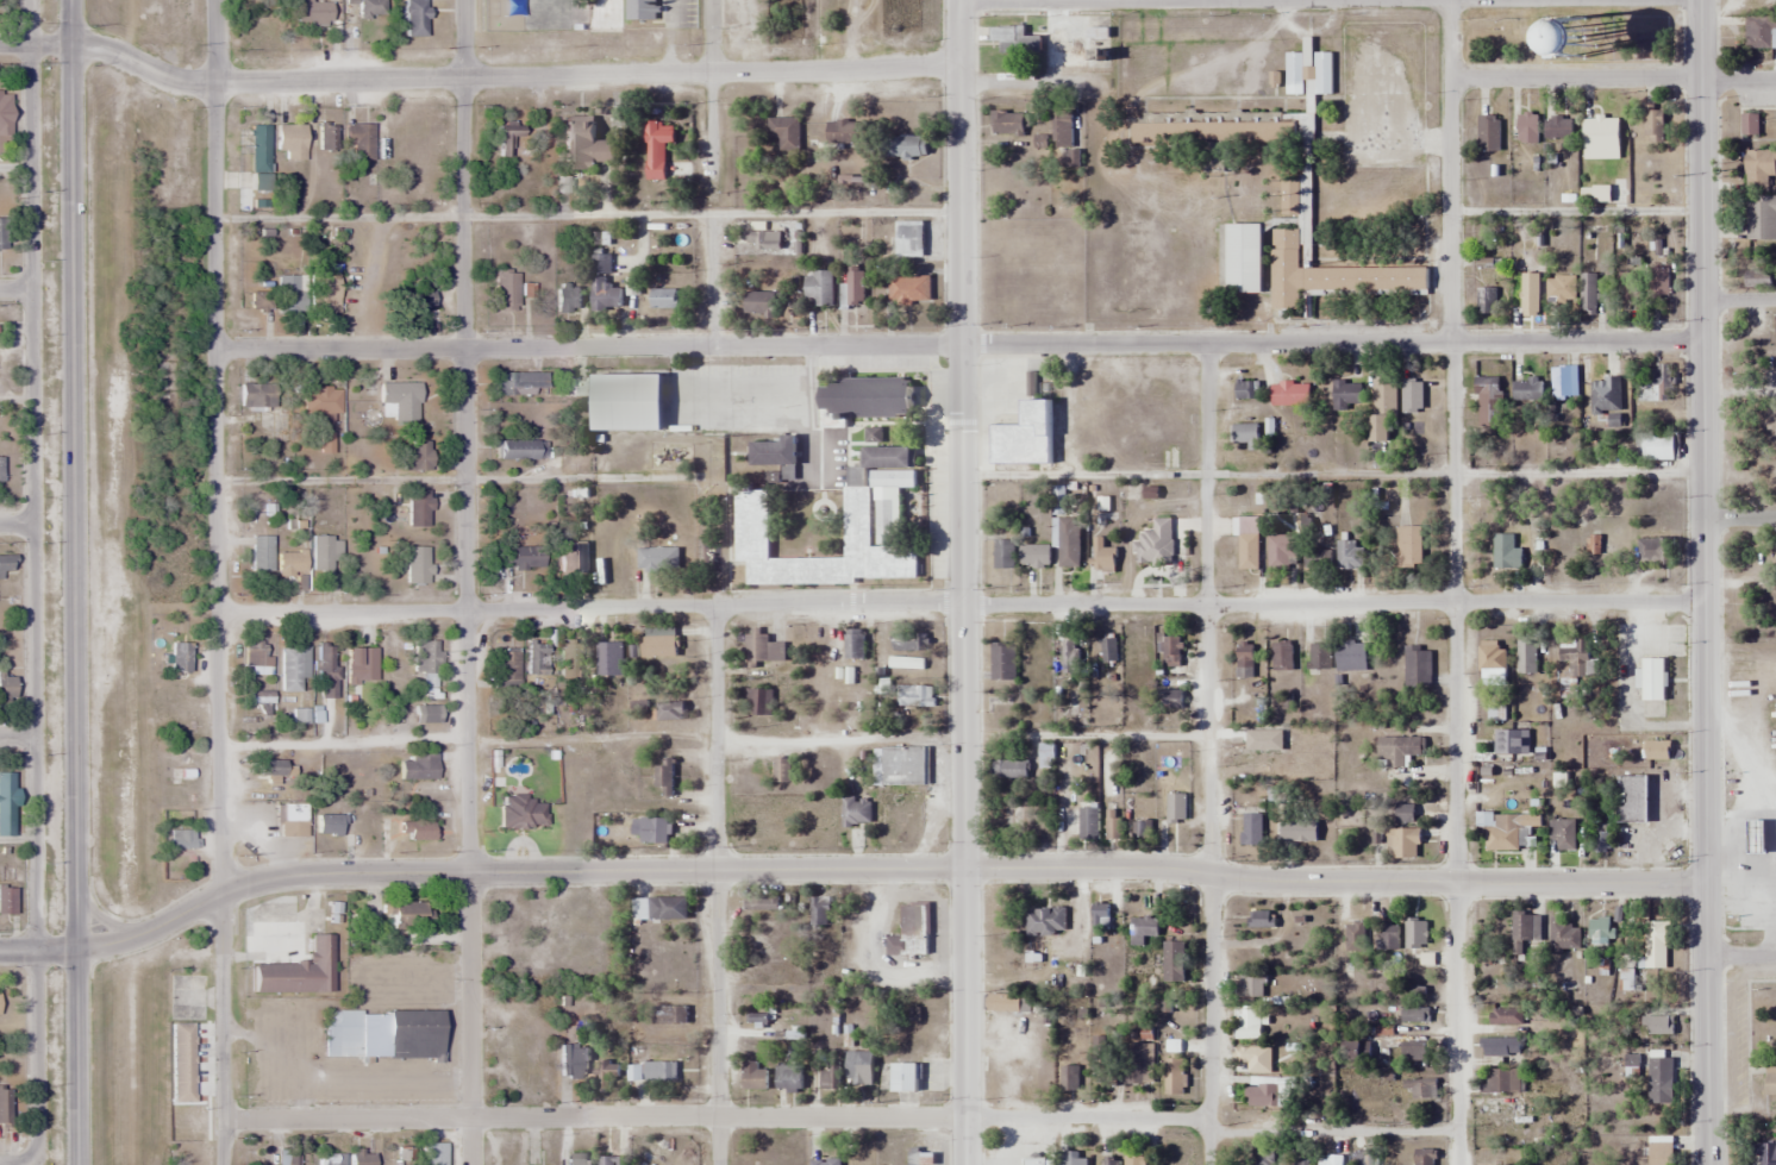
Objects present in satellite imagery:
road: (1205, 0)
road: (1328, 1)
building: (371, 8)
building: (642, 10)
building: (312, 12)
building: (414, 18)
building: (1759, 32)
building: (1577, 33)
water tower: (1577, 33)
road: (14, 43)
building: (1295, 71)
building: (1322, 73)
road: (490, 76)
road: (1613, 77)
road: (711, 86)
building: (4, 113)
building: (1652, 123)
building: (1006, 124)
building: (1749, 125)
building: (1062, 126)
building: (1527, 127)
building: (1558, 127)
building: (784, 132)
building: (845, 132)
building: (1214, 132)
building: (1488, 133)
building: (325, 136)
building: (507, 137)
building: (1600, 138)
building: (290, 139)
building: (358, 142)
building: (583, 144)
building: (905, 145)
building: (656, 149)
building: (258, 156)
building: (1757, 167)
building: (420, 189)
building: (1759, 217)
building: (2, 232)
building: (763, 239)
building: (908, 239)
building: (1288, 243)
building: (1243, 257)
building: (601, 263)
building: (1758, 280)
building: (1657, 281)
road: (711, 284)
building: (855, 287)
building: (1625, 287)
building: (506, 288)
building: (818, 288)
road: (15, 289)
building: (908, 289)
building: (1561, 289)
building: (324, 292)
building: (286, 293)
building: (1588, 294)
building: (605, 296)
building: (1530, 296)
building: (419, 299)
building: (568, 299)
building: (664, 299)
road: (1738, 299)
building: (1486, 300)
building: (261, 301)
building: (761, 303)
building: (1775, 325)
road: (959, 345)
building: (518, 383)
building: (1563, 383)
building: (1655, 386)
building: (579, 387)
building: (1527, 389)
building: (1244, 390)
building: (258, 394)
building: (1289, 394)
building: (1346, 395)
building: (1605, 395)
building: (1412, 396)
building: (323, 399)
building: (401, 399)
building: (864, 399)
building: (1488, 402)
building: (1381, 407)
building: (1246, 436)
building: (1023, 437)
building: (1653, 447)
building: (520, 449)
building: (774, 452)
building: (415, 455)
building: (888, 457)
building: (0, 469)
building: (1057, 500)
building: (418, 508)
road: (1739, 519)
building: (871, 520)
road: (17, 525)
building: (1068, 543)
building: (1408, 546)
building: (1281, 551)
building: (1505, 551)
building: (1651, 551)
building: (1247, 552)
building: (262, 553)
building: (323, 555)
building: (574, 555)
building: (1003, 555)
building: (1102, 555)
building: (1349, 555)
building: (521, 556)
building: (1033, 556)
building: (1317, 557)
building: (657, 558)
building: (290, 562)
building: (418, 564)
building: (4, 565)
building: (1775, 571)
road: (33, 578)
road: (74, 582)
railway: (136, 582)
road: (219, 582)
road: (465, 582)
road: (962, 582)
road: (1452, 582)
road: (1702, 582)
road: (961, 606)
building: (909, 643)
building: (853, 644)
building: (658, 646)
building: (1108, 649)
building: (763, 650)
building: (820, 650)
building: (1171, 651)
building: (569, 652)
building: (1067, 654)
building: (1350, 654)
building: (1492, 656)
building: (1526, 656)
building: (180, 657)
building: (1281, 657)
building: (1319, 657)
building: (1580, 657)
building: (537, 658)
building: (608, 659)
building: (1244, 660)
building: (426, 662)
building: (1002, 662)
building: (905, 664)
building: (362, 665)
building: (506, 666)
building: (1417, 666)
building: (292, 668)
building: (327, 671)
building: (1652, 679)
building: (6, 689)
building: (914, 696)
building: (1172, 699)
building: (758, 702)
building: (669, 712)
building: (1495, 712)
building: (429, 714)
building: (300, 715)
road: (18, 737)
building: (1511, 741)
building: (1396, 751)
building: (1657, 751)
road: (1208, 754)
building: (1045, 756)
building: (1138, 764)
building: (418, 766)
building: (899, 766)
building: (1009, 769)
building: (273, 771)
building: (782, 771)
building: (664, 775)
building: (1631, 800)
building: (6, 803)
building: (1175, 808)
building: (292, 812)
building: (523, 812)
building: (856, 813)
building: (1403, 814)
building: (1088, 823)
building: (327, 825)
building: (1113, 825)
building: (1252, 828)
building: (1139, 829)
building: (419, 831)
building: (1297, 831)
building: (659, 833)
building: (1562, 834)
building: (1755, 837)
building: (1507, 838)
building: (181, 839)
building: (1402, 844)
road: (962, 868)
road: (718, 887)
building: (6, 889)
building: (761, 903)
building: (659, 909)
building: (818, 912)
building: (408, 914)
building: (1100, 917)
building: (1257, 919)
building: (1045, 921)
building: (1420, 928)
building: (1143, 929)
building: (1524, 929)
building: (1599, 931)
building: (909, 933)
building: (1563, 934)
building: (1355, 935)
building: (1388, 937)
road: (115, 940)
building: (1656, 945)
road: (1740, 954)
building: (1174, 962)
building: (298, 970)
building: (1251, 984)
building: (1002, 1003)
building: (1414, 1013)
building: (669, 1015)
building: (1505, 1016)
building: (1247, 1026)
building: (1657, 1026)
building: (381, 1033)
building: (1501, 1046)
building: (1356, 1051)
building: (1413, 1051)
building: (1249, 1056)
building: (1103, 1059)
building: (574, 1063)
building: (1139, 1063)
building: (858, 1067)
building: (652, 1072)
building: (830, 1075)
building: (1174, 1076)
building: (753, 1077)
building: (905, 1077)
building: (788, 1078)
building: (1069, 1079)
building: (1659, 1081)
building: (1501, 1082)
building: (1770, 1082)
building: (1421, 1089)
building: (1267, 1092)
building: (4, 1106)
building: (1506, 1113)
road: (714, 1120)
road: (1333, 1130)
building: (433, 1153)
building: (1659, 1153)
building: (1761, 1153)
building: (295, 1155)
building: (362, 1157)
building: (400, 1157)
building: (1424, 1157)
building: (920, 1158)
building: (1264, 1158)
building: (1365, 1158)
building: (1073, 1159)
building: (331, 1160)
building: (612, 1160)
building: (1136, 1160)
building: (1330, 1160)
building: (825, 1161)
building: (1037, 1161)
building: (1300, 1161)
road: (15, 1163)

